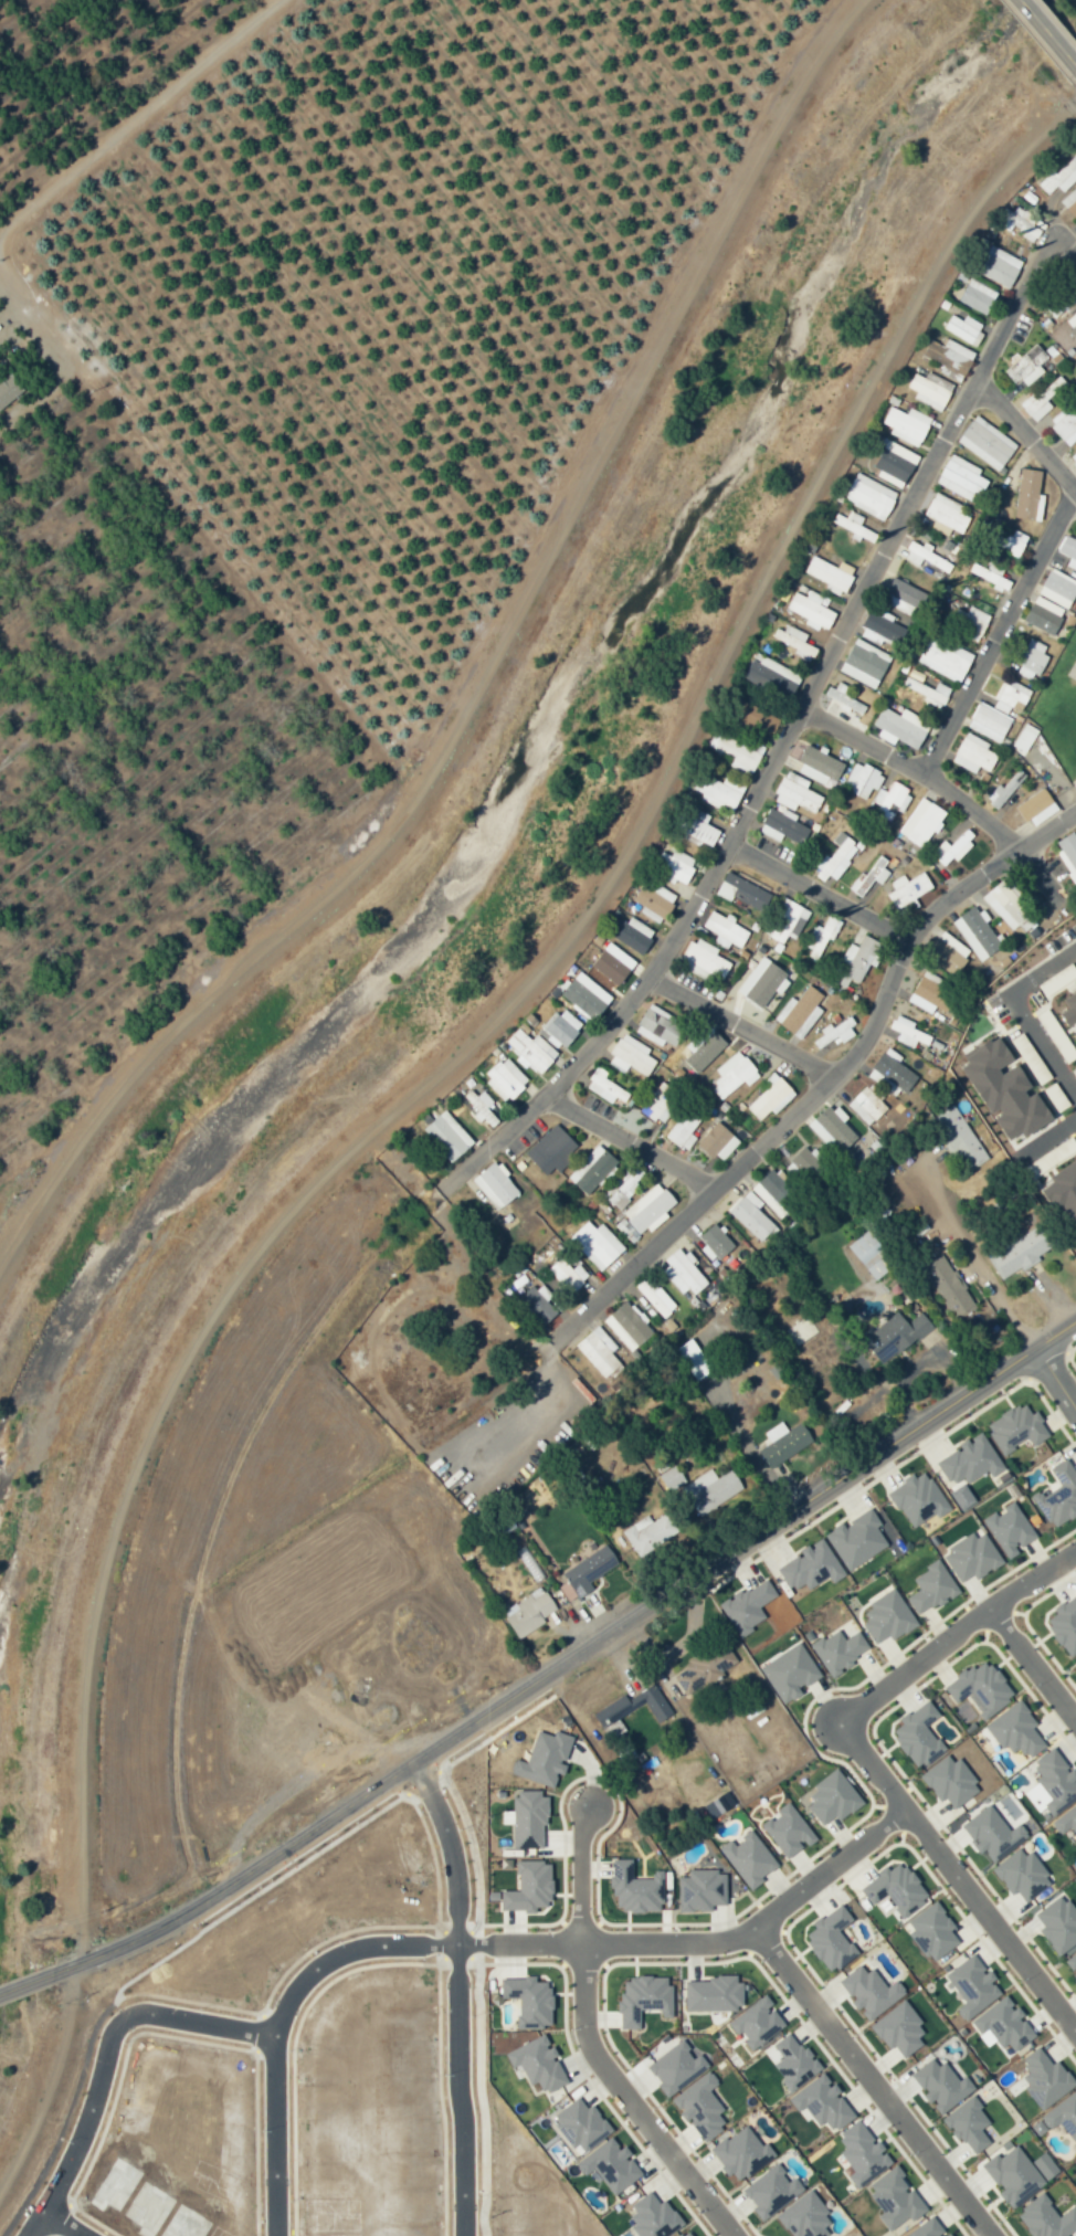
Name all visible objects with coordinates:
road: (1031, 12)
road: (1059, 44)
road: (129, 112)
building: (1059, 178)
building: (1070, 201)
building: (1021, 222)
building: (1000, 266)
road: (1031, 291)
building: (978, 296)
building: (1061, 297)
road: (25, 299)
building: (1072, 323)
building: (964, 328)
building: (950, 358)
building: (1028, 366)
building: (930, 389)
building: (9, 390)
building: (1044, 398)
road: (1035, 416)
building: (907, 424)
building: (1066, 424)
building: (988, 443)
building: (1074, 456)
building: (896, 463)
building: (962, 478)
building: (1030, 495)
building: (869, 496)
building: (947, 514)
building: (854, 525)
building: (1010, 541)
building: (1069, 550)
building: (831, 574)
building: (1059, 589)
building: (904, 597)
building: (811, 610)
building: (1045, 615)
building: (969, 620)
building: (880, 629)
road: (1005, 631)
building: (798, 642)
building: (1031, 657)
building: (945, 658)
building: (865, 663)
road: (484, 669)
building: (771, 675)
building: (929, 692)
building: (1012, 695)
building: (845, 705)
building: (990, 723)
building: (901, 727)
building: (743, 737)
building: (1025, 738)
building: (974, 753)
road: (932, 755)
building: (817, 766)
building: (863, 779)
building: (1004, 790)
building: (719, 791)
building: (797, 793)
building: (892, 800)
building: (1037, 806)
building: (922, 822)
building: (694, 825)
building: (781, 826)
building: (953, 847)
building: (1068, 853)
building: (836, 857)
building: (675, 865)
building: (871, 877)
road: (727, 884)
road: (844, 887)
building: (908, 889)
building: (742, 892)
building: (654, 901)
building: (1008, 906)
building: (787, 920)
building: (726, 930)
building: (633, 934)
building: (978, 934)
building: (821, 936)
building: (949, 953)
building: (861, 957)
building: (706, 958)
building: (611, 967)
building: (764, 982)
building: (932, 993)
building: (586, 995)
building: (799, 1009)
road: (757, 1010)
building: (1069, 1010)
road: (1022, 1011)
building: (660, 1026)
building: (561, 1029)
building: (836, 1032)
building: (908, 1032)
building: (1075, 1034)
building: (703, 1048)
building: (531, 1051)
building: (631, 1055)
building: (893, 1072)
building: (734, 1075)
building: (506, 1078)
building: (605, 1087)
road: (816, 1090)
road: (411, 1091)
building: (1006, 1091)
building: (771, 1096)
building: (661, 1103)
building: (482, 1106)
building: (866, 1106)
road: (658, 1124)
building: (685, 1127)
building: (834, 1129)
building: (449, 1136)
building: (959, 1137)
road: (1052, 1137)
building: (718, 1141)
building: (550, 1149)
building: (808, 1162)
building: (592, 1169)
building: (626, 1183)
building: (496, 1185)
building: (773, 1193)
building: (1065, 1201)
building: (651, 1209)
building: (752, 1217)
building: (713, 1241)
building: (598, 1244)
building: (1016, 1253)
road: (973, 1256)
building: (681, 1272)
building: (566, 1276)
building: (948, 1287)
building: (653, 1298)
building: (537, 1301)
building: (625, 1326)
building: (894, 1332)
building: (597, 1350)
road: (1068, 1358)
building: (690, 1360)
road: (1044, 1365)
road: (1054, 1380)
building: (1012, 1428)
building: (780, 1443)
building: (967, 1460)
road: (900, 1462)
building: (706, 1490)
building: (1056, 1495)
building: (958, 1496)
building: (916, 1499)
building: (1005, 1529)
building: (645, 1532)
building: (853, 1539)
building: (968, 1557)
building: (808, 1567)
building: (586, 1570)
building: (927, 1588)
building: (745, 1606)
building: (525, 1614)
road: (972, 1616)
building: (883, 1617)
road: (998, 1620)
building: (1063, 1625)
road: (1026, 1626)
road: (954, 1633)
road: (572, 1648)
building: (835, 1650)
road: (1032, 1665)
building: (1074, 1666)
building: (701, 1667)
building: (787, 1673)
road: (858, 1681)
building: (977, 1687)
building: (626, 1713)
building: (1012, 1730)
building: (914, 1736)
road: (882, 1750)
building: (947, 1782)
building: (1052, 1782)
road: (895, 1795)
building: (829, 1797)
road: (892, 1818)
building: (1065, 1821)
building: (785, 1831)
building: (989, 1834)
building: (746, 1858)
building: (1017, 1875)
road: (958, 1880)
building: (524, 1888)
building: (632, 1888)
building: (892, 1889)
building: (698, 1890)
road: (964, 1922)
building: (1055, 1924)
building: (929, 1932)
building: (826, 1940)
road: (701, 1944)
road: (344, 1960)
building: (1070, 1964)
road: (31, 1975)
building: (969, 1986)
road: (455, 1992)
building: (866, 1992)
building: (711, 1993)
building: (641, 2000)
building: (753, 2023)
building: (1001, 2025)
building: (896, 2029)
road: (587, 2046)
road: (103, 2059)
building: (789, 2061)
building: (673, 2068)
building: (1041, 2079)
road: (869, 2084)
building: (936, 2085)
building: (819, 2103)
building: (696, 2107)
building: (1062, 2117)
building: (576, 2124)
building: (964, 2126)
road: (271, 2137)
building: (859, 2154)
building: (1041, 2165)
building: (1009, 2176)
building: (892, 2200)
building: (1043, 2218)
road: (57, 2225)
building: (925, 2228)
building: (682, 2233)

